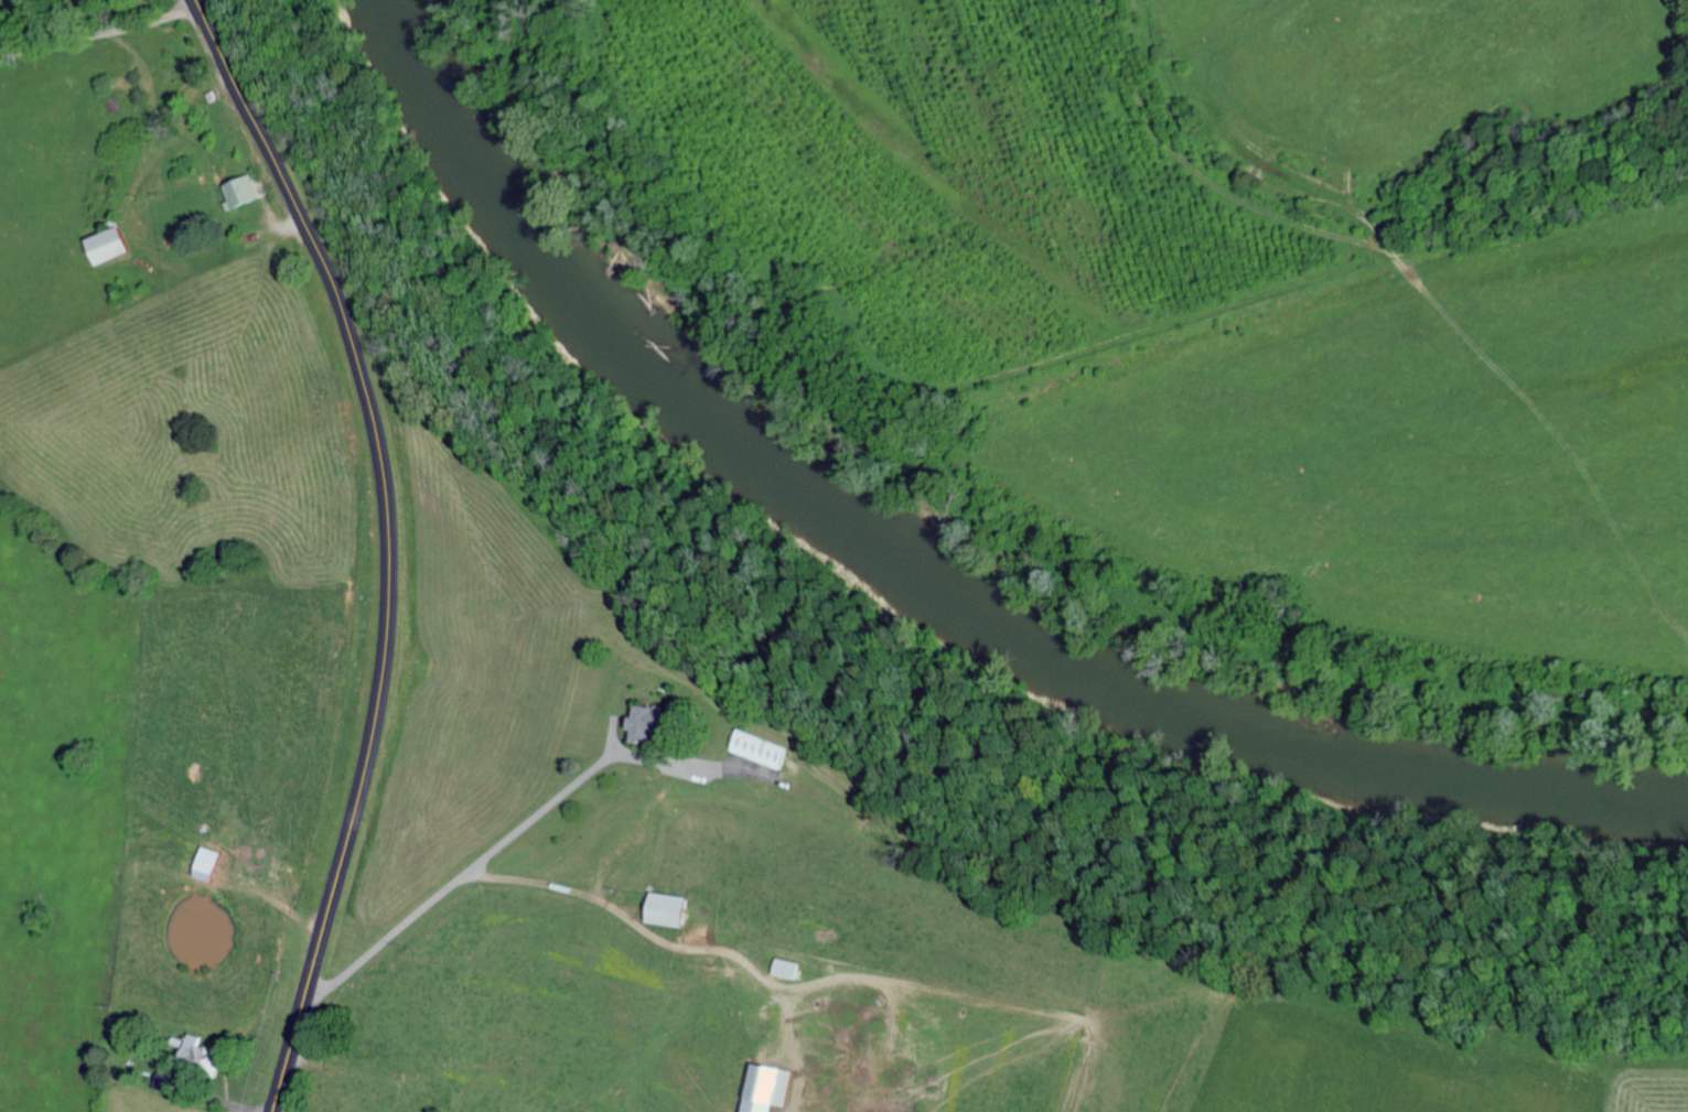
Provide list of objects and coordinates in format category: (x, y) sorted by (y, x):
building: (239, 190)
building: (104, 245)
road: (386, 544)
river: (932, 561)
building: (642, 723)
building: (759, 748)
road: (473, 799)
building: (203, 863)
building: (663, 909)
building: (783, 968)
building: (197, 1055)
building: (763, 1088)

